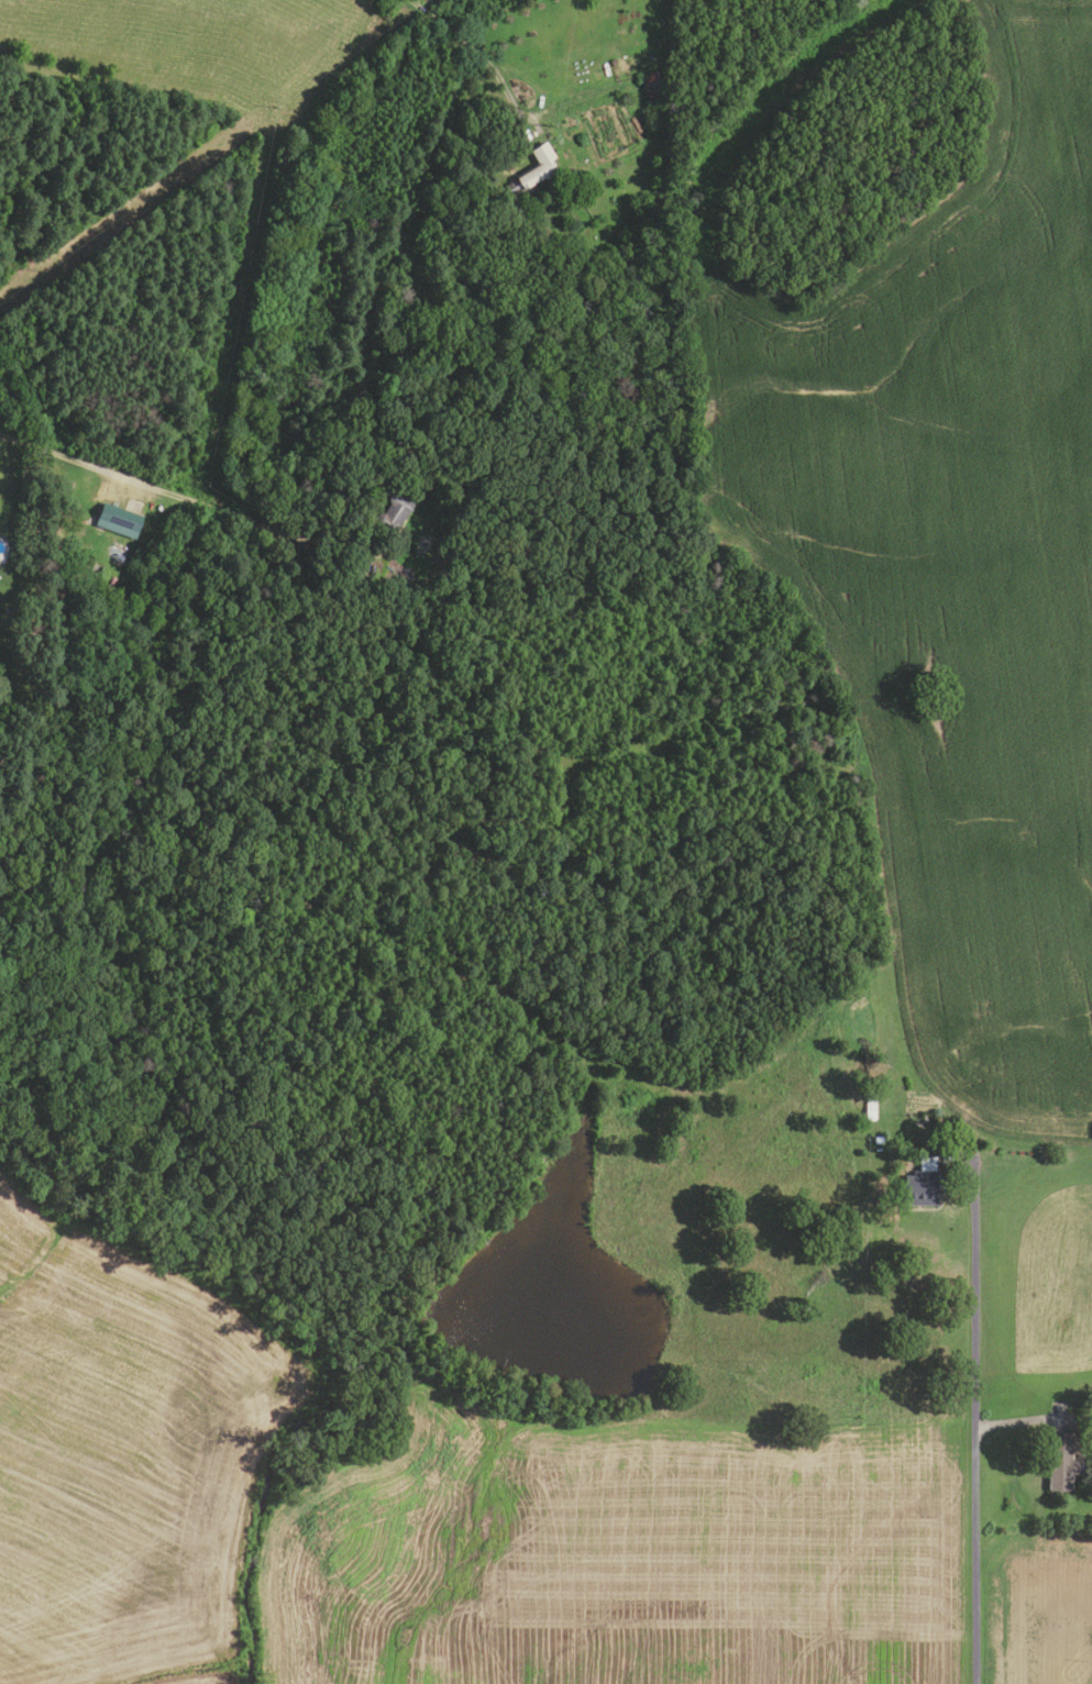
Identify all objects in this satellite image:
road: (472, 48)
building: (651, 89)
building: (532, 167)
road: (189, 500)
building: (393, 514)
building: (115, 521)
building: (467, 536)
building: (117, 558)
building: (869, 1109)
building: (876, 1140)
building: (920, 1184)
road: (972, 1293)
road: (1025, 1420)
crop: (126, 1456)
building: (1060, 1462)
crop: (620, 1553)
road: (974, 1556)

